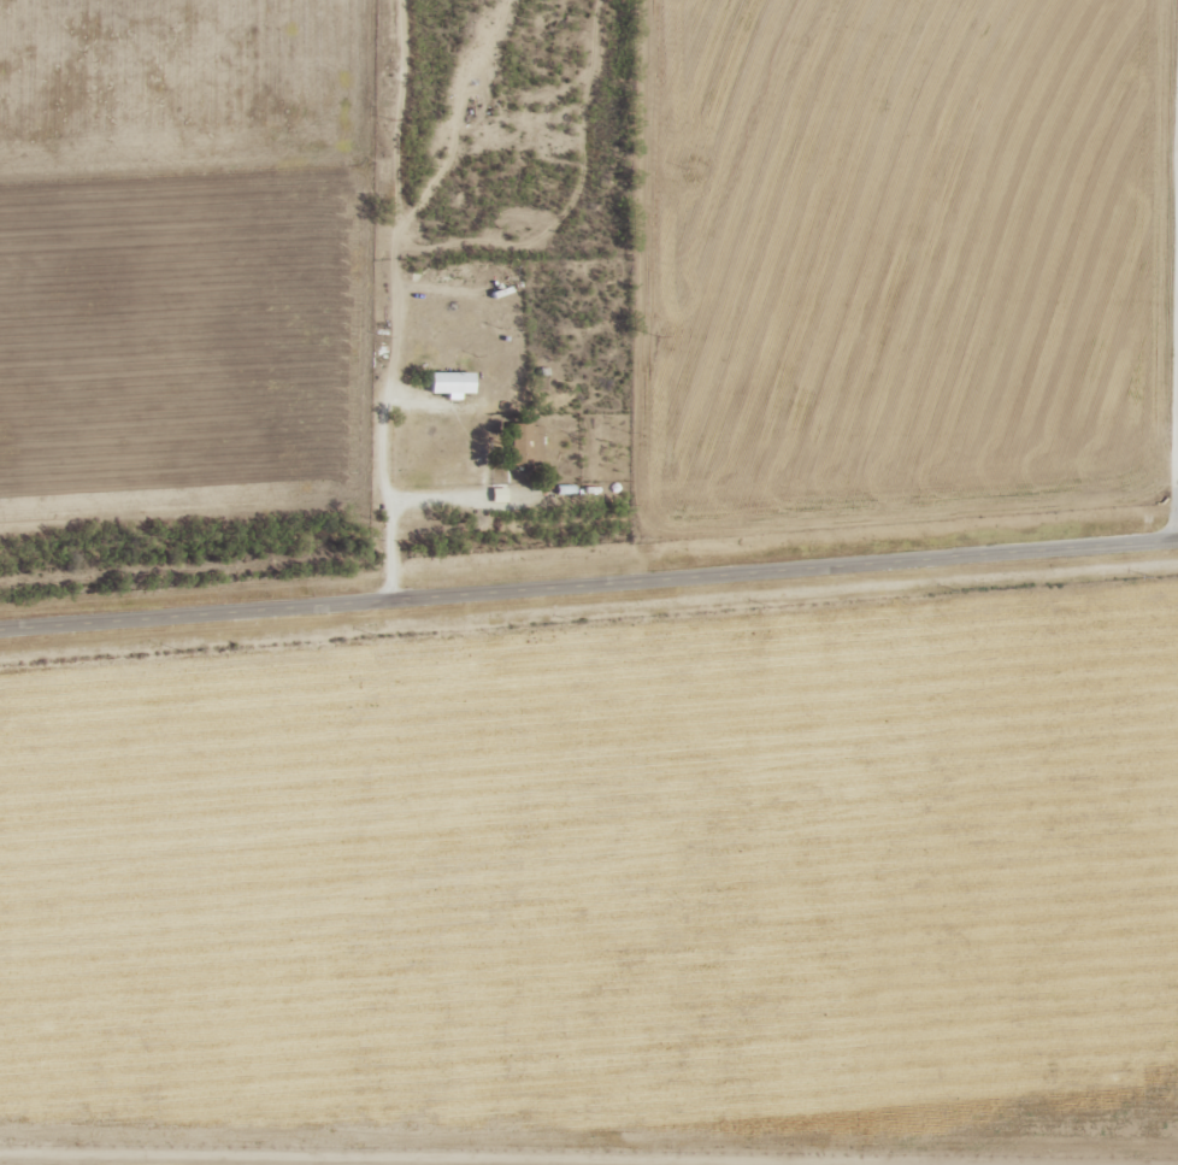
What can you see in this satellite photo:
building: (448, 383)
railway: (589, 542)
road: (589, 586)

